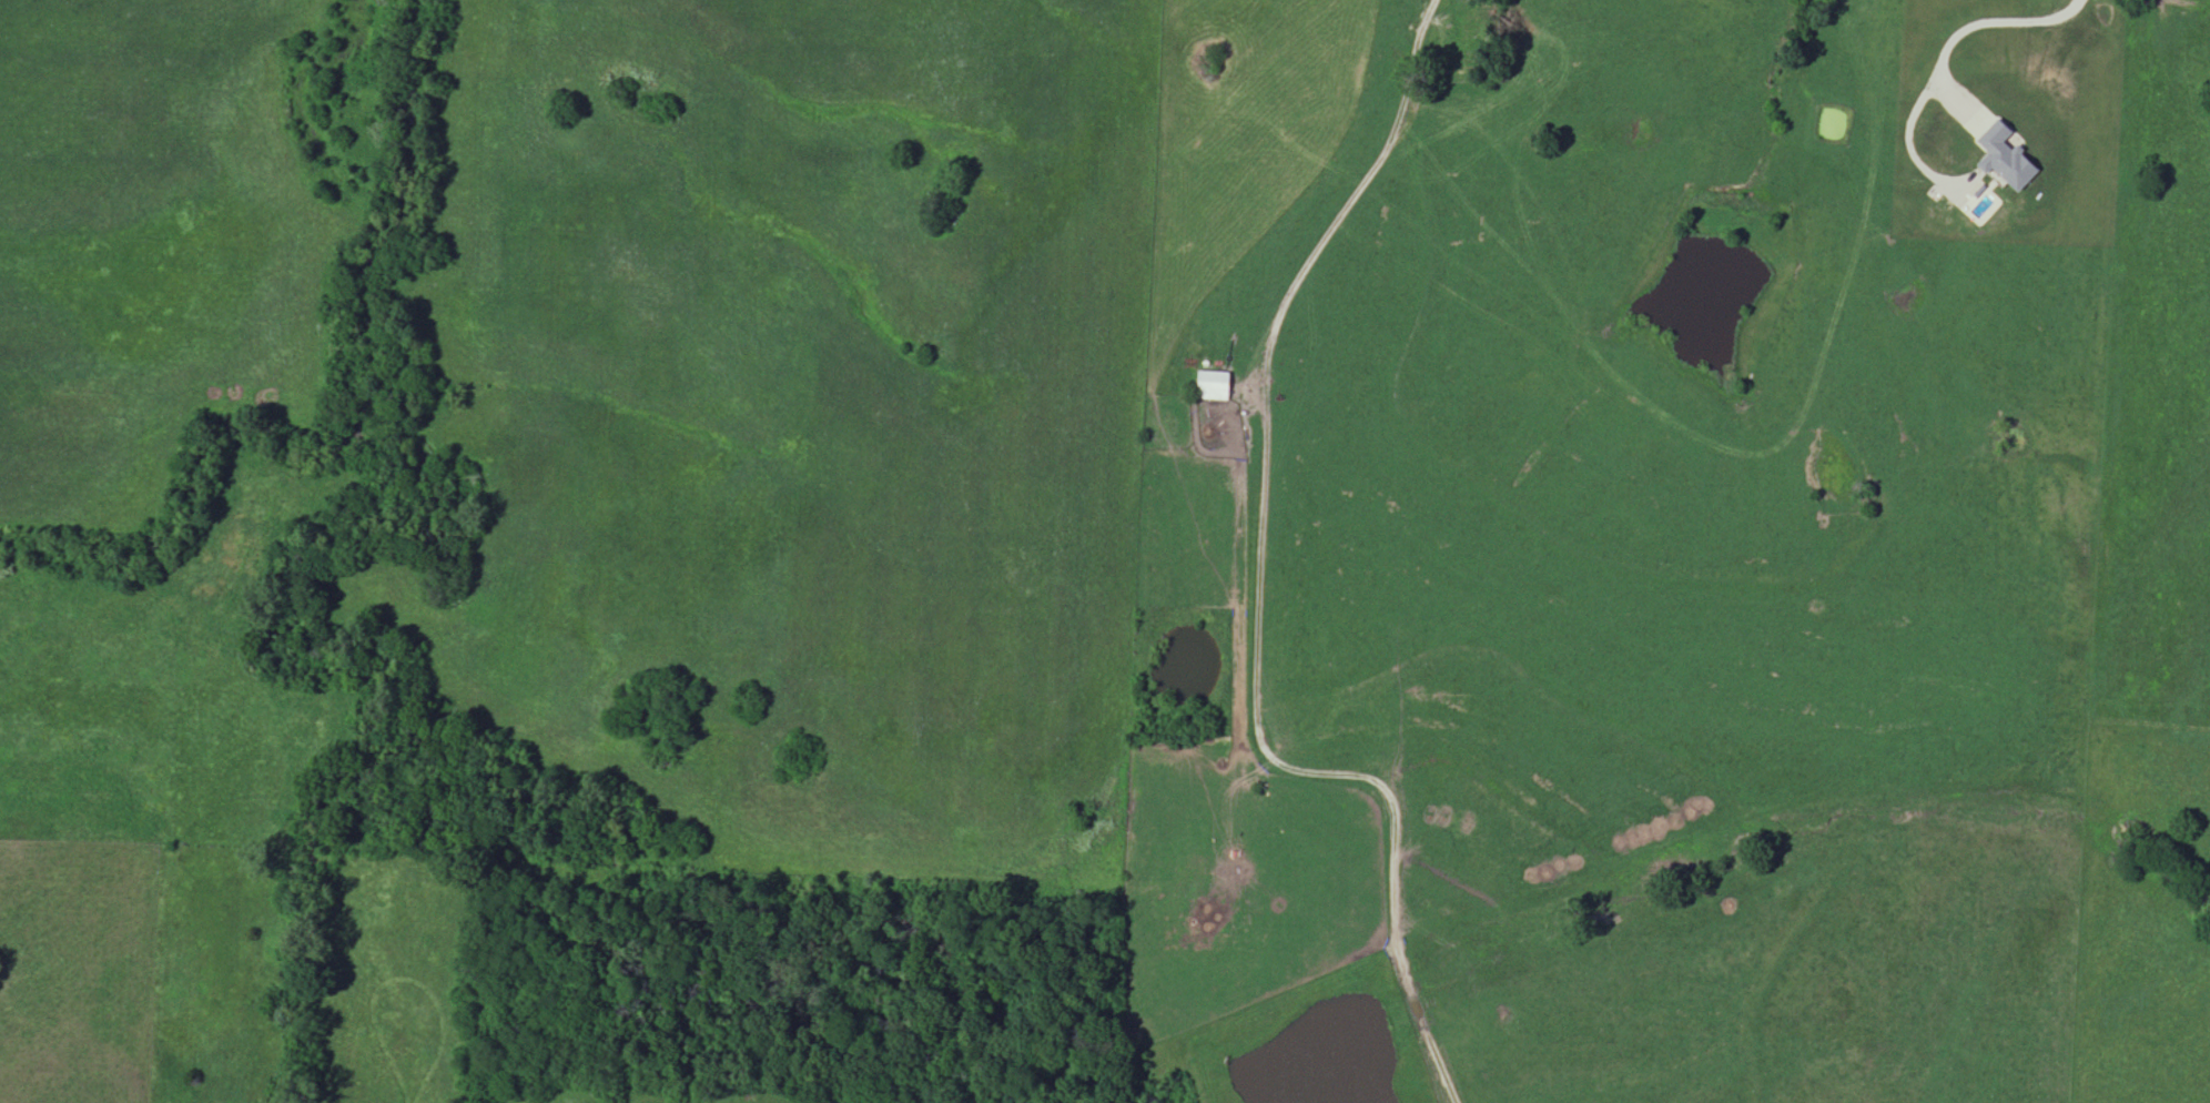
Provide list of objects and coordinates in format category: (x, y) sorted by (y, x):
road: (1974, 24)
building: (1216, 386)
road: (1261, 581)

